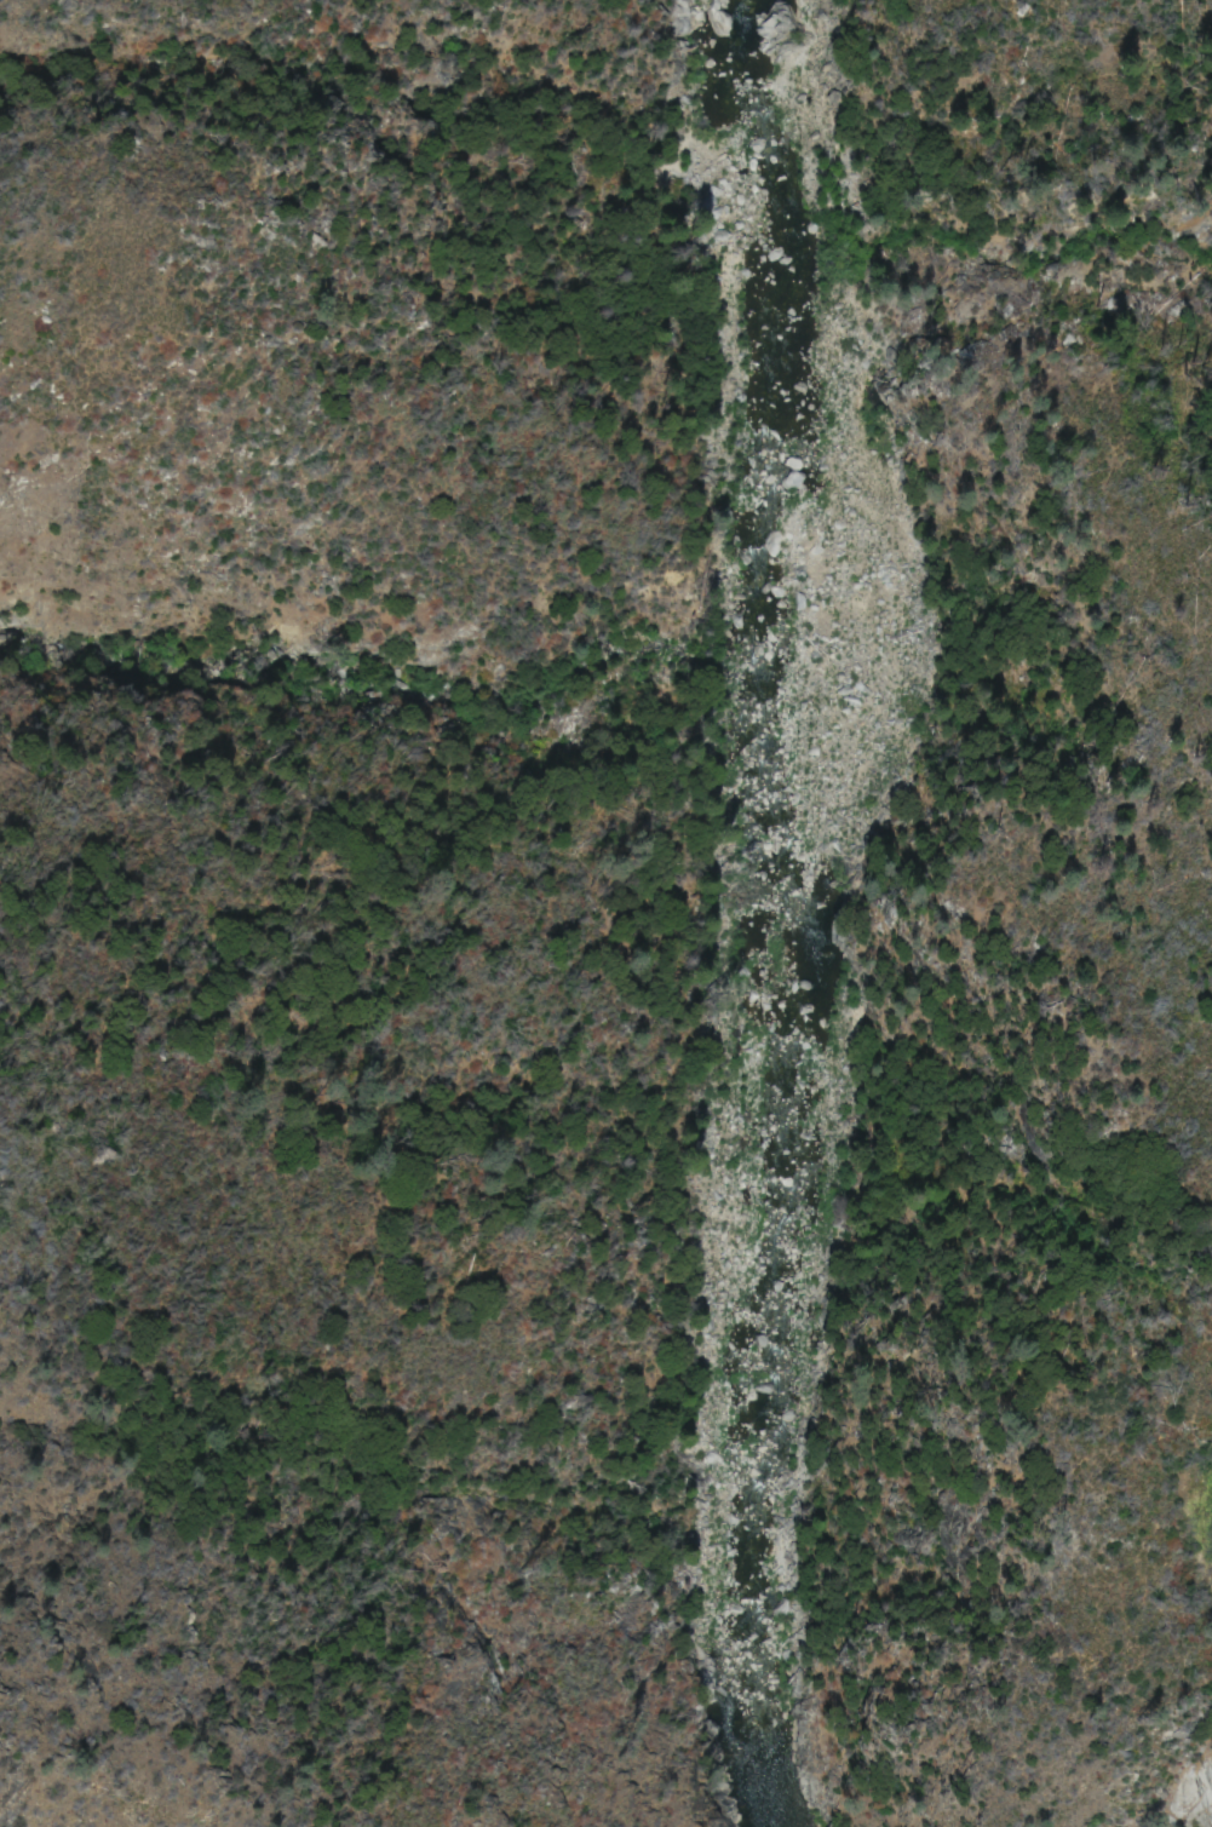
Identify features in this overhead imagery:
river: (799, 913)

